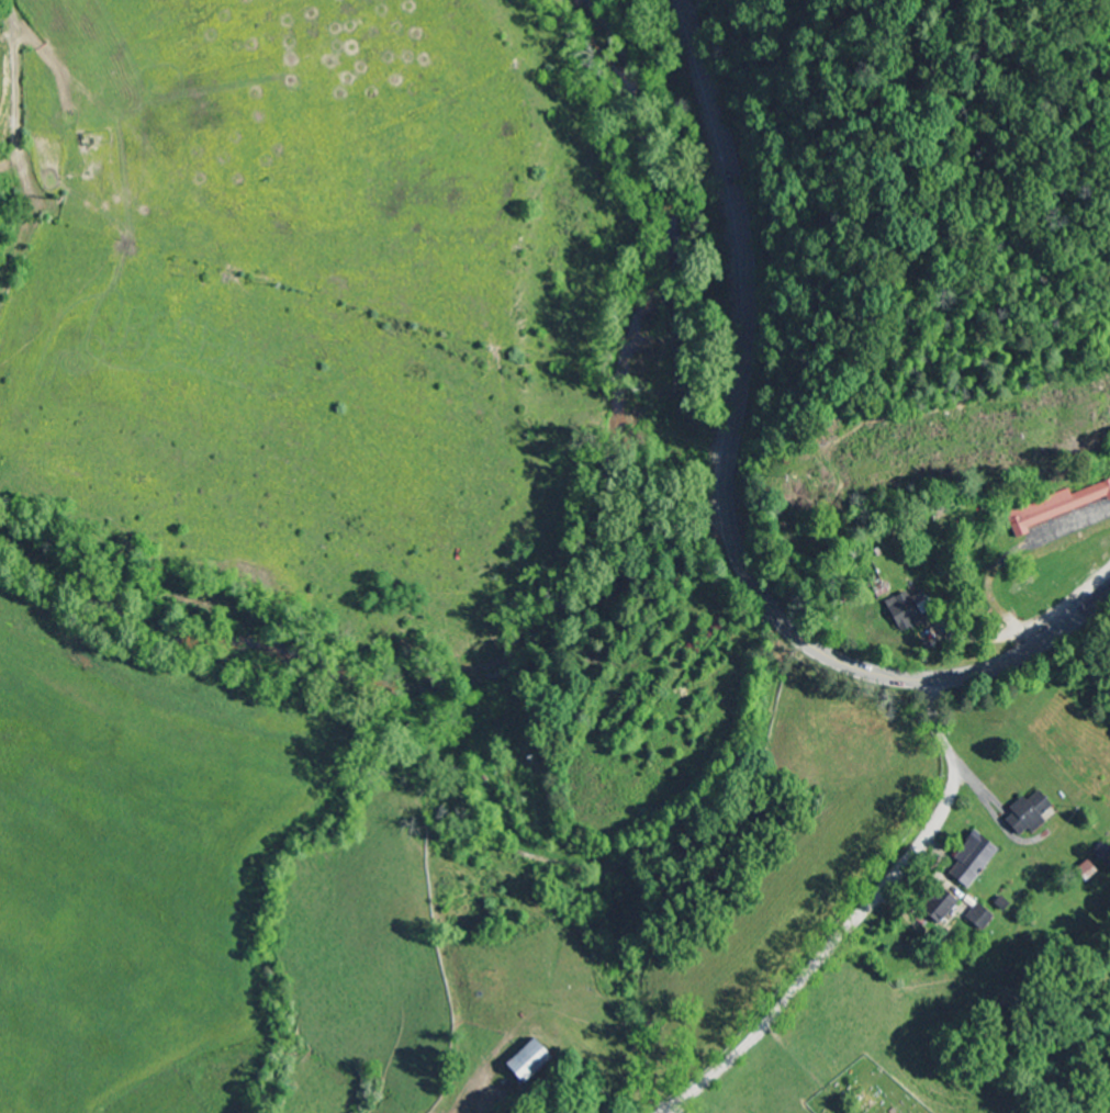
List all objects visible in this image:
road: (729, 481)
building: (1056, 508)
road: (1097, 599)
building: (910, 614)
building: (1038, 814)
building: (980, 859)
road: (878, 891)
building: (954, 907)
building: (986, 917)
building: (538, 1060)
park: (867, 1092)

